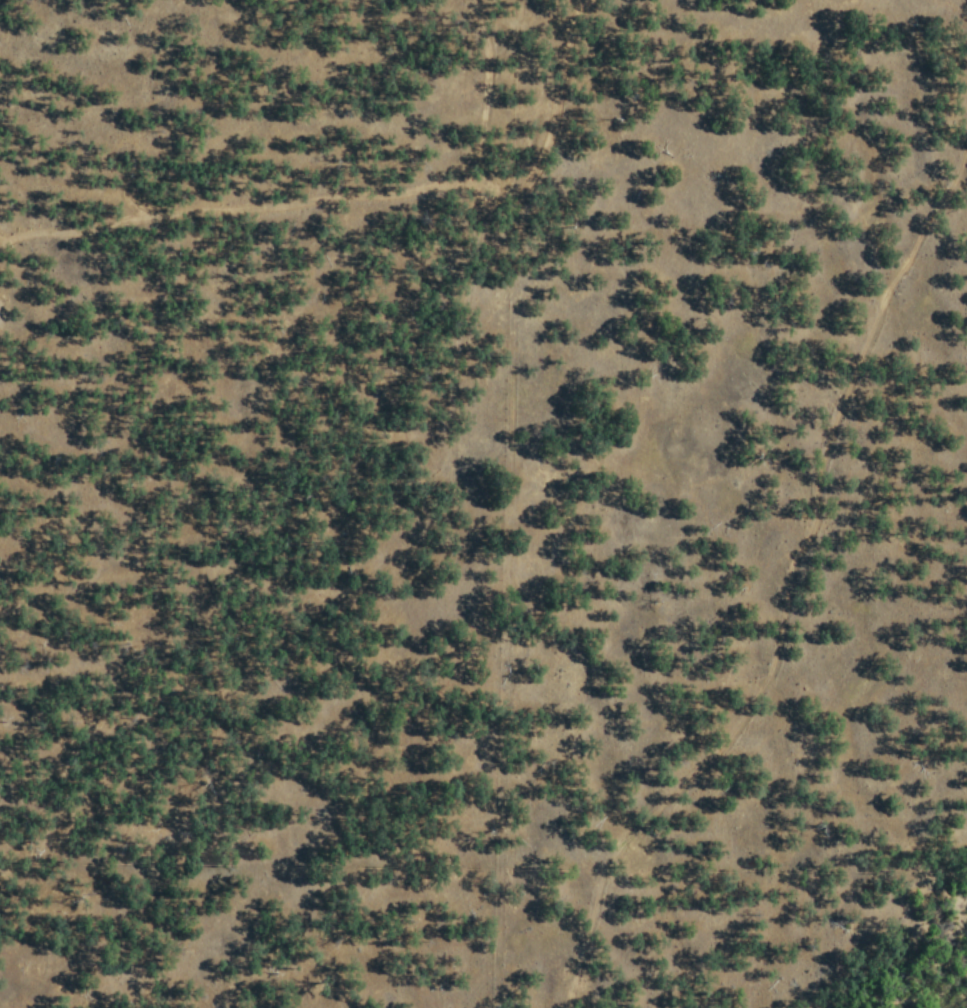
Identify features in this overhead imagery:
road: (780, 582)

